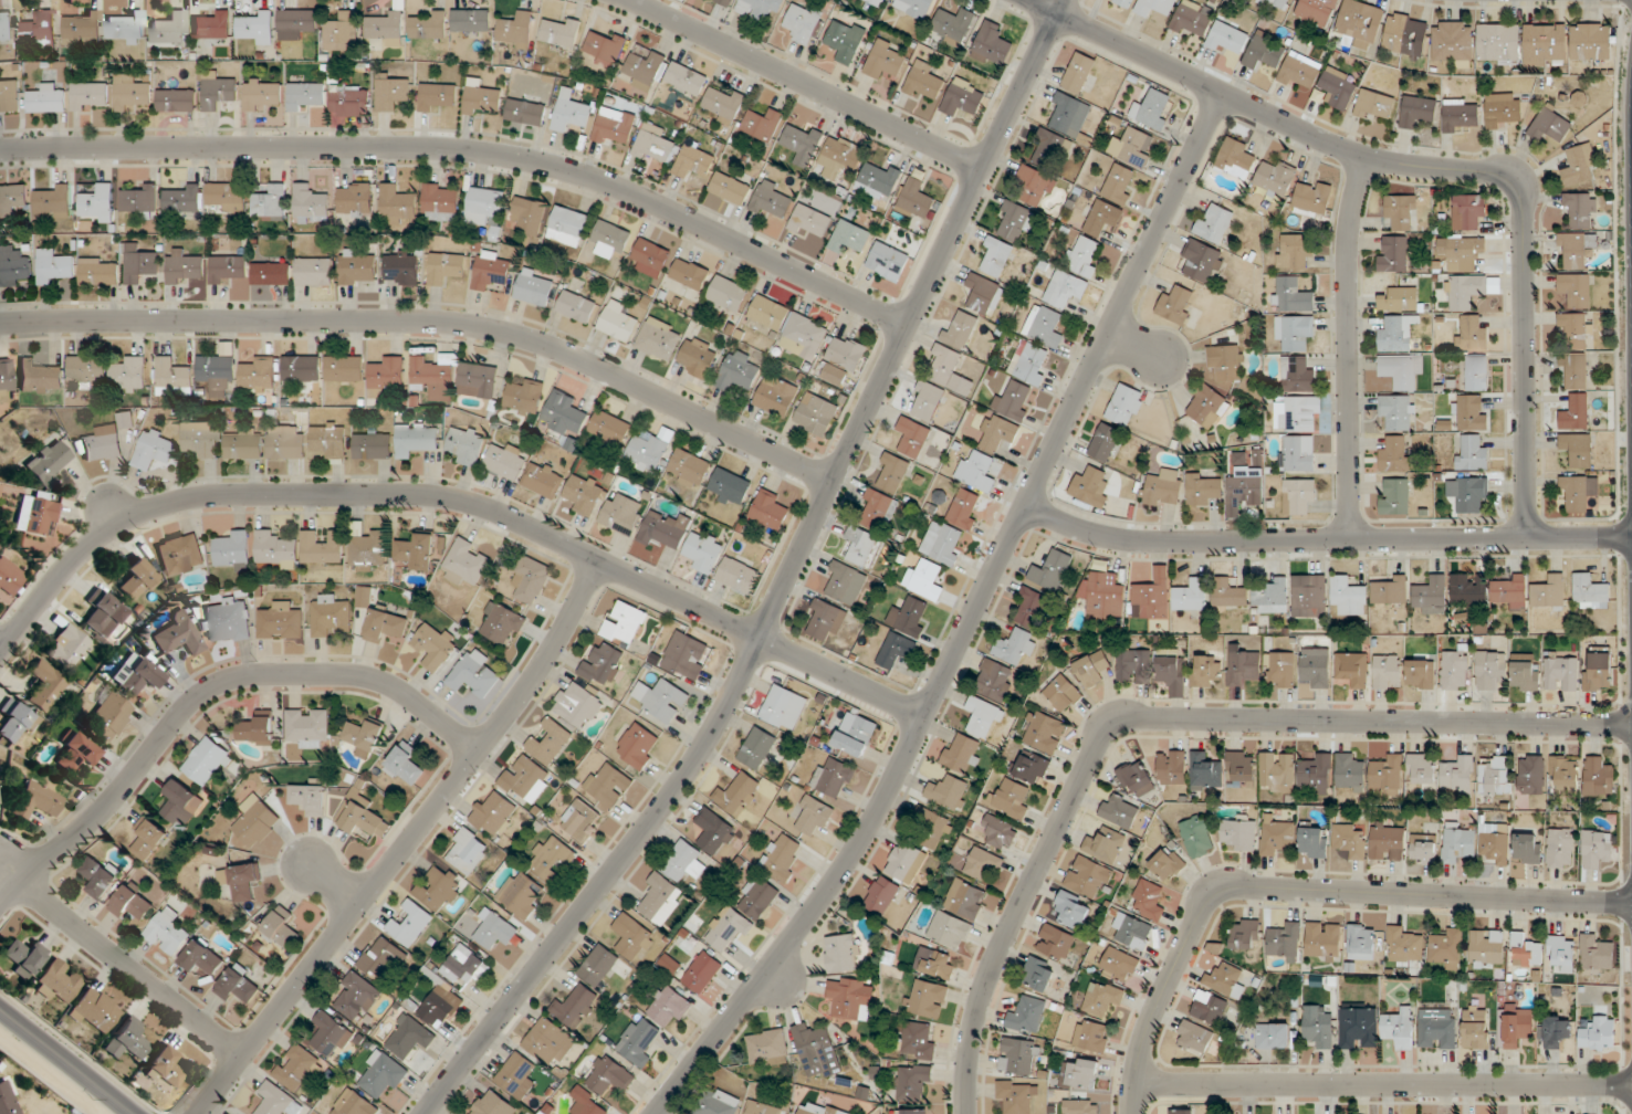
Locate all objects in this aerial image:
building: (725, 2)
building: (876, 2)
building: (1124, 2)
building: (1276, 3)
building: (1155, 7)
building: (760, 8)
building: (914, 8)
building: (1317, 11)
building: (297, 20)
building: (1193, 20)
building: (471, 21)
building: (803, 23)
building: (953, 24)
building: (1360, 24)
building: (6, 27)
building: (212, 27)
building: (386, 27)
building: (430, 27)
building: (82, 28)
building: (169, 28)
building: (255, 28)
building: (39, 29)
building: (126, 29)
building: (516, 30)
building: (342, 31)
building: (561, 32)
building: (1406, 34)
building: (1228, 38)
building: (845, 40)
building: (1591, 42)
building: (1454, 43)
building: (1499, 44)
building: (1546, 44)
building: (992, 45)
building: (606, 49)
building: (1265, 52)
building: (885, 60)
building: (646, 70)
building: (1078, 73)
building: (1299, 74)
building: (686, 78)
building: (924, 82)
road: (806, 84)
building: (1338, 88)
building: (218, 92)
building: (391, 92)
building: (129, 93)
building: (262, 94)
building: (305, 95)
building: (437, 95)
building: (9, 96)
building: (88, 96)
building: (963, 98)
building: (46, 99)
building: (481, 99)
building: (176, 101)
building: (724, 104)
building: (349, 105)
building: (1374, 105)
building: (1153, 109)
building: (1503, 109)
building: (1417, 112)
building: (525, 113)
building: (571, 113)
building: (1460, 114)
building: (1070, 115)
building: (762, 124)
building: (1550, 125)
building: (614, 126)
building: (653, 144)
building: (802, 144)
building: (1133, 147)
road: (470, 149)
building: (1052, 150)
building: (841, 154)
building: (1235, 158)
building: (693, 162)
building: (1579, 166)
road: (1434, 167)
building: (1276, 179)
building: (878, 181)
building: (1120, 185)
building: (1036, 187)
building: (730, 188)
building: (227, 197)
building: (12, 199)
building: (139, 199)
building: (355, 199)
building: (917, 199)
building: (1311, 199)
building: (182, 200)
building: (771, 201)
building: (52, 202)
building: (440, 202)
building: (98, 203)
building: (310, 203)
building: (269, 204)
building: (397, 206)
building: (483, 206)
building: (1581, 209)
building: (1468, 211)
building: (1402, 212)
building: (530, 216)
building: (1102, 218)
building: (1015, 222)
building: (1214, 223)
building: (568, 225)
building: (849, 237)
building: (610, 239)
building: (1578, 250)
building: (1294, 252)
building: (1462, 252)
building: (1393, 253)
building: (1082, 255)
building: (995, 256)
building: (651, 258)
building: (887, 259)
building: (1203, 262)
building: (137, 264)
building: (13, 266)
building: (53, 266)
building: (182, 266)
building: (357, 266)
building: (401, 267)
building: (446, 267)
building: (227, 270)
building: (491, 271)
building: (98, 272)
building: (314, 272)
building: (271, 273)
building: (690, 273)
building: (534, 287)
building: (1066, 290)
building: (1472, 290)
building: (1576, 290)
building: (729, 294)
building: (985, 294)
building: (1293, 295)
building: (1400, 299)
road: (1123, 301)
building: (1176, 305)
building: (577, 307)
building: (768, 313)
road: (431, 320)
building: (618, 322)
building: (1045, 327)
building: (960, 330)
building: (1576, 330)
building: (1295, 332)
building: (1396, 333)
building: (803, 336)
building: (659, 339)
road: (1138, 344)
road: (1347, 346)
building: (698, 357)
building: (843, 360)
building: (1226, 361)
building: (1031, 362)
building: (301, 368)
building: (344, 368)
building: (87, 369)
building: (950, 370)
building: (1401, 370)
building: (740, 371)
building: (1576, 371)
building: (433, 372)
building: (1477, 372)
building: (129, 374)
building: (387, 374)
building: (217, 375)
building: (258, 375)
building: (1297, 375)
building: (6, 376)
building: (39, 377)
building: (174, 379)
building: (478, 380)
building: (776, 396)
building: (524, 397)
building: (927, 400)
building: (1014, 402)
building: (1126, 404)
building: (1207, 407)
building: (1398, 411)
building: (1471, 412)
building: (1576, 412)
building: (1294, 413)
building: (564, 414)
building: (816, 414)
building: (610, 427)
building: (998, 433)
building: (913, 437)
building: (416, 438)
building: (107, 440)
building: (200, 440)
building: (328, 441)
building: (286, 442)
building: (1106, 443)
building: (243, 444)
building: (373, 444)
building: (467, 445)
building: (154, 450)
building: (648, 452)
building: (1471, 453)
building: (1296, 454)
building: (1395, 454)
building: (505, 460)
building: (49, 462)
building: (689, 467)
building: (976, 471)
building: (892, 473)
building: (544, 480)
building: (1090, 485)
building: (1245, 486)
building: (729, 487)
building: (1163, 488)
building: (1203, 488)
building: (1468, 493)
building: (585, 494)
building: (1581, 494)
building: (1298, 496)
building: (1394, 496)
road: (454, 497)
building: (879, 507)
building: (965, 508)
building: (770, 511)
building: (623, 513)
building: (36, 516)
building: (666, 529)
road: (1325, 539)
building: (943, 543)
building: (862, 546)
building: (323, 547)
building: (276, 549)
building: (369, 549)
building: (232, 550)
building: (703, 551)
building: (420, 553)
building: (180, 555)
building: (464, 564)
building: (1052, 570)
building: (737, 576)
building: (136, 579)
building: (925, 579)
building: (9, 580)
building: (531, 580)
road: (783, 581)
building: (845, 582)
building: (1468, 589)
building: (1391, 591)
building: (1510, 591)
building: (1590, 591)
building: (1549, 592)
building: (1191, 595)
building: (1228, 595)
building: (1349, 596)
building: (1103, 597)
building: (1153, 597)
building: (1272, 597)
building: (1310, 599)
building: (1031, 607)
building: (103, 613)
building: (331, 616)
building: (910, 617)
building: (229, 620)
building: (826, 620)
building: (280, 621)
building: (501, 623)
building: (624, 624)
building: (385, 627)
building: (179, 635)
building: (435, 645)
building: (66, 647)
building: (1015, 647)
road: (0, 648)
road: (0, 649)
building: (896, 650)
building: (686, 655)
building: (604, 664)
building: (1134, 666)
building: (1243, 666)
building: (1316, 668)
building: (1092, 669)
building: (1280, 669)
building: (1352, 670)
building: (1454, 670)
building: (1490, 670)
building: (1599, 670)
building: (1205, 671)
building: (1388, 672)
building: (1525, 673)
building: (473, 674)
building: (1421, 674)
building: (1561, 674)
building: (136, 675)
building: (1173, 675)
building: (995, 680)
building: (44, 685)
road: (206, 690)
building: (1064, 693)
building: (660, 698)
building: (577, 705)
building: (784, 707)
building: (108, 717)
road: (1159, 717)
building: (984, 718)
building: (13, 722)
building: (307, 727)
building: (257, 729)
building: (1044, 731)
building: (856, 734)
building: (364, 737)
building: (550, 742)
building: (638, 746)
building: (757, 748)
building: (962, 753)
building: (76, 754)
building: (207, 761)
building: (405, 765)
building: (1032, 767)
building: (1172, 767)
building: (1242, 769)
building: (1421, 769)
building: (1205, 771)
building: (1277, 771)
building: (1316, 773)
building: (1350, 773)
building: (1387, 774)
building: (1458, 774)
building: (1565, 774)
building: (1531, 775)
building: (1495, 776)
building: (833, 777)
building: (1598, 777)
building: (1137, 778)
building: (526, 779)
building: (608, 785)
building: (949, 792)
building: (737, 795)
building: (308, 797)
building: (1013, 799)
building: (36, 801)
building: (181, 803)
building: (1119, 811)
building: (492, 813)
building: (813, 816)
building: (362, 817)
building: (582, 821)
building: (257, 822)
road: (868, 827)
building: (932, 827)
building: (713, 831)
building: (1000, 832)
building: (1238, 832)
building: (1197, 837)
building: (1276, 837)
building: (148, 839)
building: (1349, 841)
building: (1314, 842)
building: (1388, 842)
road: (406, 843)
building: (1458, 843)
building: (1106, 845)
building: (1496, 847)
building: (1560, 848)
building: (1423, 849)
building: (1528, 849)
building: (1597, 849)
building: (467, 851)
building: (781, 858)
building: (552, 859)
building: (683, 861)
building: (906, 863)
building: (983, 863)
building: (1168, 864)
building: (101, 876)
building: (1089, 877)
building: (241, 880)
road: (332, 881)
building: (438, 889)
road: (1304, 890)
building: (521, 895)
building: (881, 895)
building: (757, 897)
building: (661, 898)
building: (966, 898)
building: (1149, 900)
building: (133, 903)
building: (1073, 910)
building: (410, 924)
building: (728, 927)
building: (282, 928)
building: (494, 931)
building: (950, 931)
building: (1131, 931)
building: (167, 933)
building: (1245, 934)
building: (631, 937)
building: (1324, 942)
building: (1361, 942)
building: (1055, 943)
building: (1285, 943)
building: (1404, 946)
building: (1487, 947)
building: (1447, 949)
building: (1526, 952)
building: (1562, 952)
building: (841, 953)
building: (1596, 954)
building: (22, 957)
building: (201, 959)
building: (381, 959)
road: (119, 960)
building: (935, 963)
building: (1120, 965)
building: (465, 966)
building: (598, 966)
building: (702, 973)
building: (1038, 974)
building: (1226, 980)
building: (59, 982)
building: (238, 985)
building: (356, 998)
building: (850, 998)
building: (927, 999)
building: (1103, 999)
building: (440, 1006)
building: (575, 1006)
building: (669, 1007)
building: (1210, 1007)
building: (95, 1010)
building: (1027, 1016)
building: (1517, 1024)
building: (1318, 1026)
building: (1359, 1026)
building: (1475, 1028)
building: (1400, 1029)
building: (1437, 1029)
building: (1556, 1031)
building: (331, 1034)
building: (1598, 1034)
building: (1275, 1036)
building: (409, 1037)
building: (1091, 1038)
building: (1196, 1038)
building: (127, 1040)
building: (638, 1041)
building: (919, 1041)
building: (548, 1042)
building: (767, 1048)
building: (816, 1050)
building: (1018, 1057)
road: (67, 1060)
building: (296, 1068)
building: (165, 1069)
building: (1082, 1072)
building: (381, 1075)
building: (516, 1076)
building: (609, 1076)
building: (913, 1082)
road: (1382, 1083)
building: (1017, 1096)
building: (7, 1100)
building: (276, 1101)
building: (589, 1103)
building: (718, 1103)
building: (355, 1104)
building: (493, 1105)
building: (1081, 1106)
building: (761, 1108)
building: (817, 1108)
building: (917, 1112)
building: (1180, 1112)

